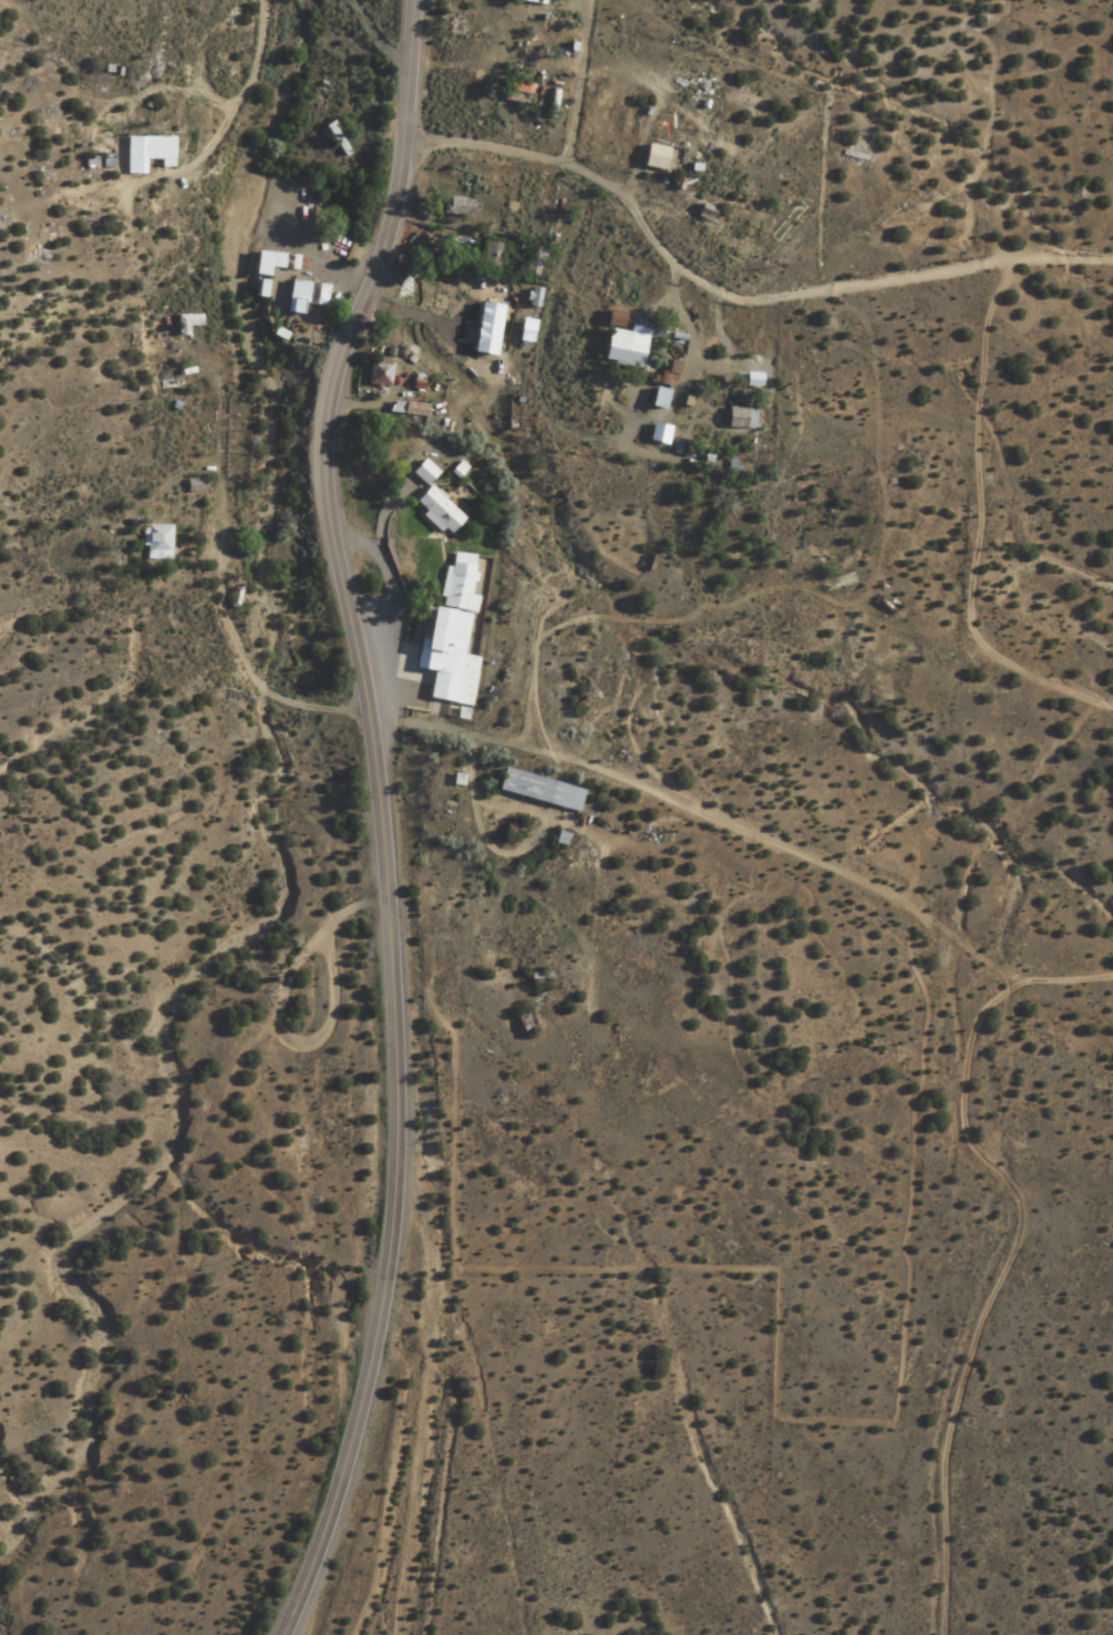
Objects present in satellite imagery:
building: (530, 0)
road: (371, 37)
road: (245, 82)
building: (517, 91)
building: (333, 138)
building: (144, 151)
building: (653, 156)
building: (457, 204)
building: (489, 255)
building: (264, 261)
building: (305, 294)
road: (733, 295)
building: (611, 317)
building: (185, 321)
building: (627, 341)
building: (378, 372)
building: (662, 380)
building: (740, 417)
road: (321, 461)
building: (421, 470)
building: (435, 508)
building: (155, 542)
building: (445, 655)
building: (539, 789)
building: (539, 979)
road: (383, 1290)

